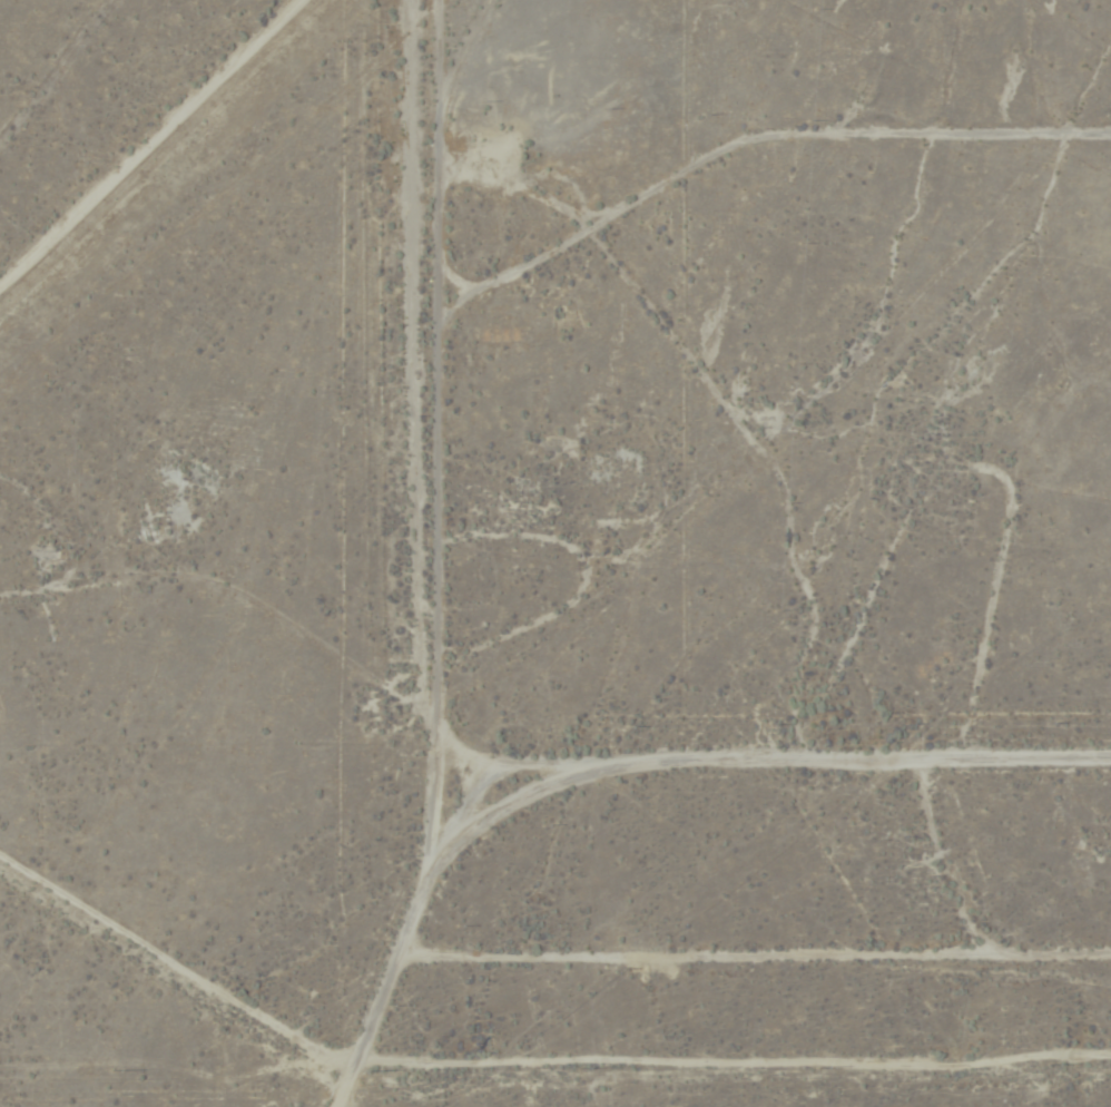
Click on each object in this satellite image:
road: (161, 160)
road: (425, 448)
road: (648, 794)
road: (189, 1013)
road: (225, 1078)

